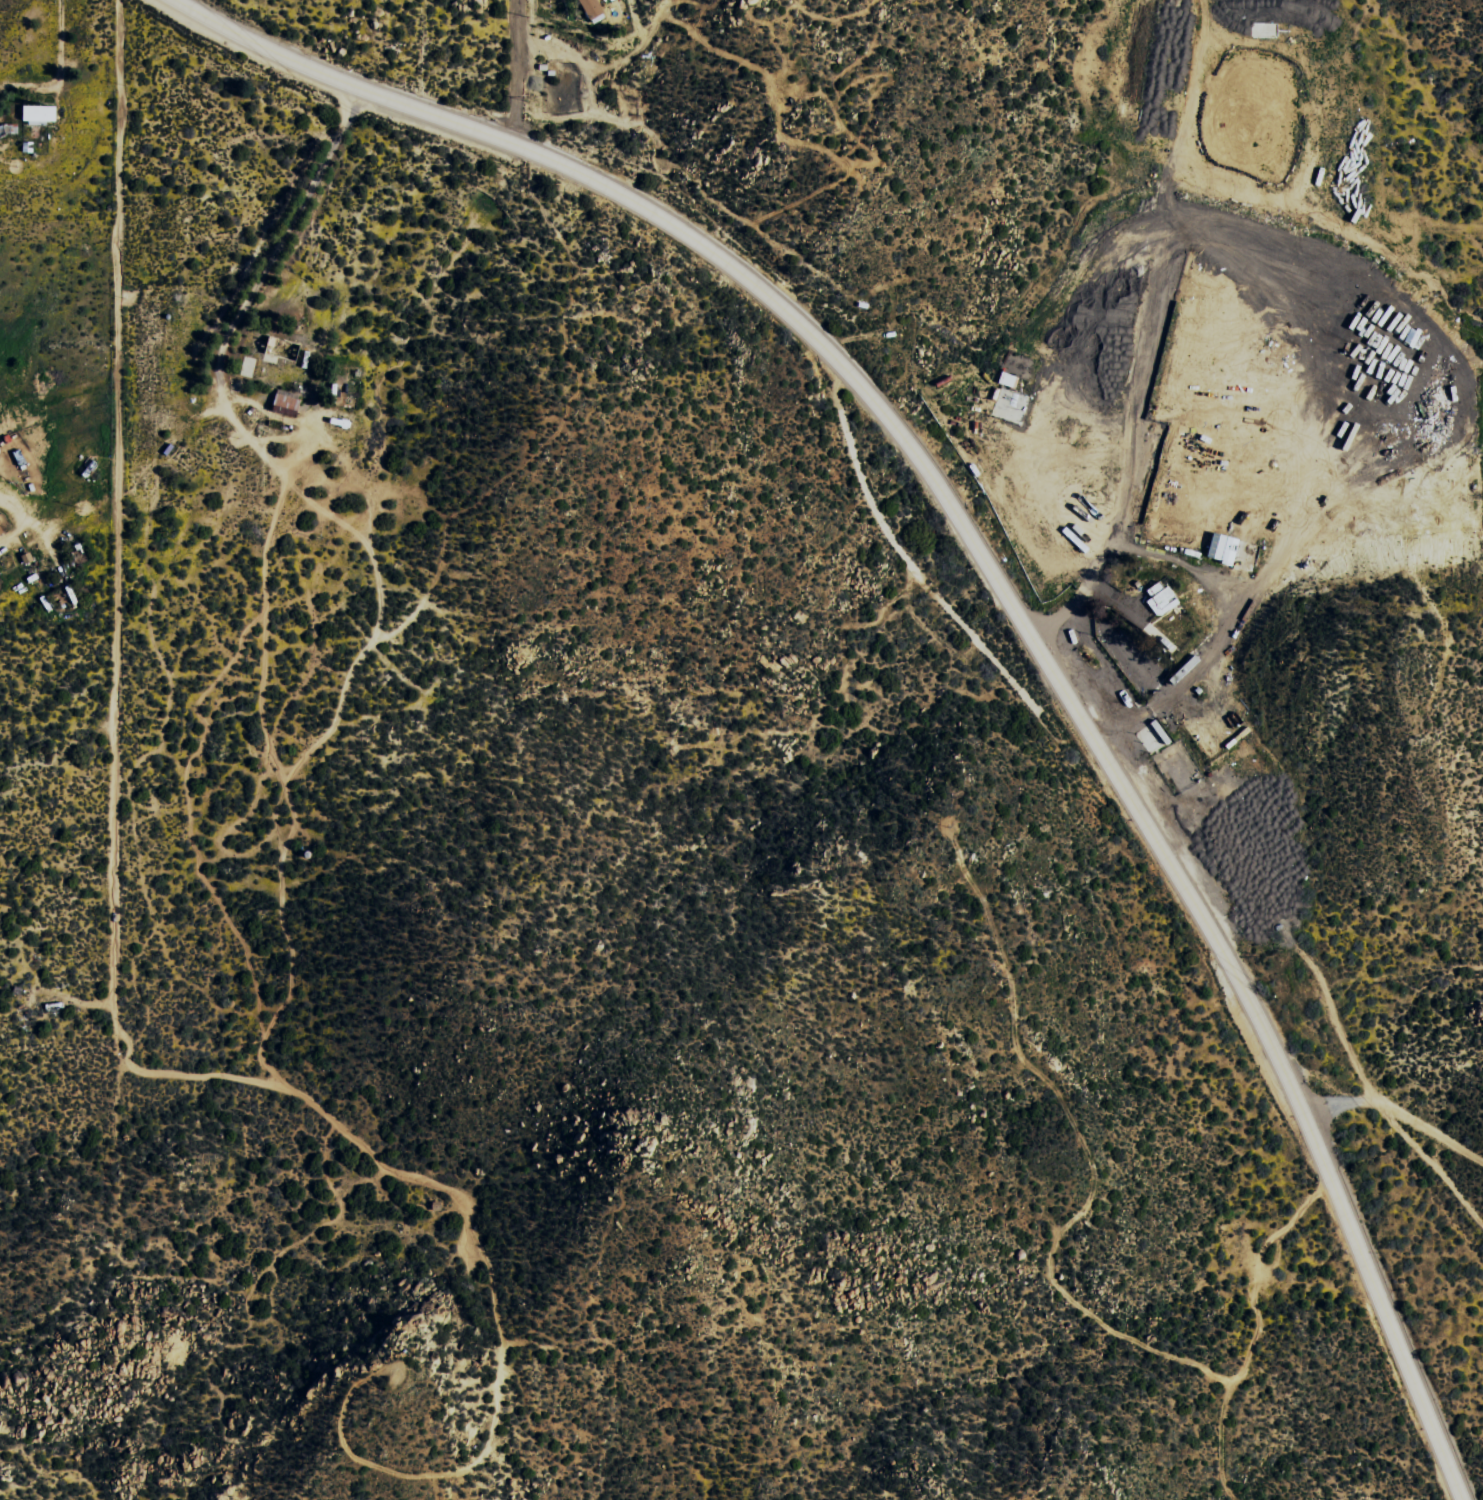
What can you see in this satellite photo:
building: (593, 10)
road: (516, 70)
building: (39, 114)
road: (497, 135)
road: (322, 227)
building: (1011, 400)
building: (286, 403)
building: (1, 530)
building: (1223, 548)
building: (1161, 597)
road: (1051, 670)
road: (1015, 692)
building: (1169, 750)
road: (597, 861)
road: (1396, 1114)
road: (1372, 1280)

